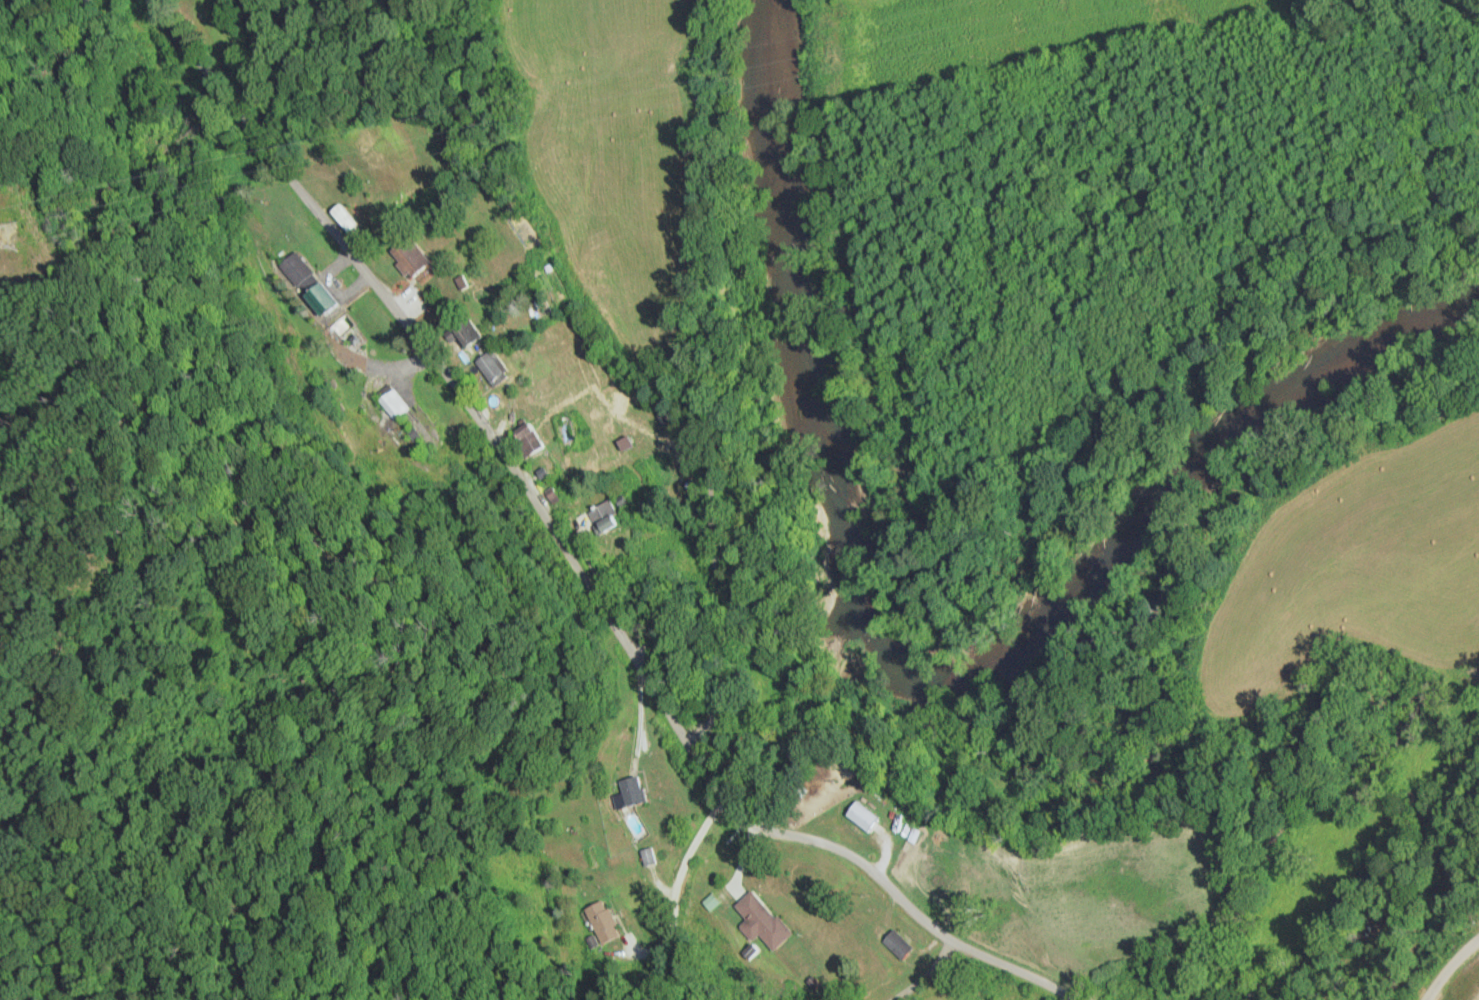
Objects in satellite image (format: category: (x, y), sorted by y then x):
railway: (1475, 2)
power tower: (6, 235)
building: (408, 257)
building: (303, 272)
building: (329, 300)
building: (467, 334)
building: (493, 368)
building: (401, 405)
building: (526, 439)
building: (613, 516)
road: (574, 555)
river: (919, 673)
building: (636, 793)
building: (862, 816)
road: (695, 852)
building: (604, 921)
building: (762, 921)
building: (896, 944)
road: (1452, 970)

